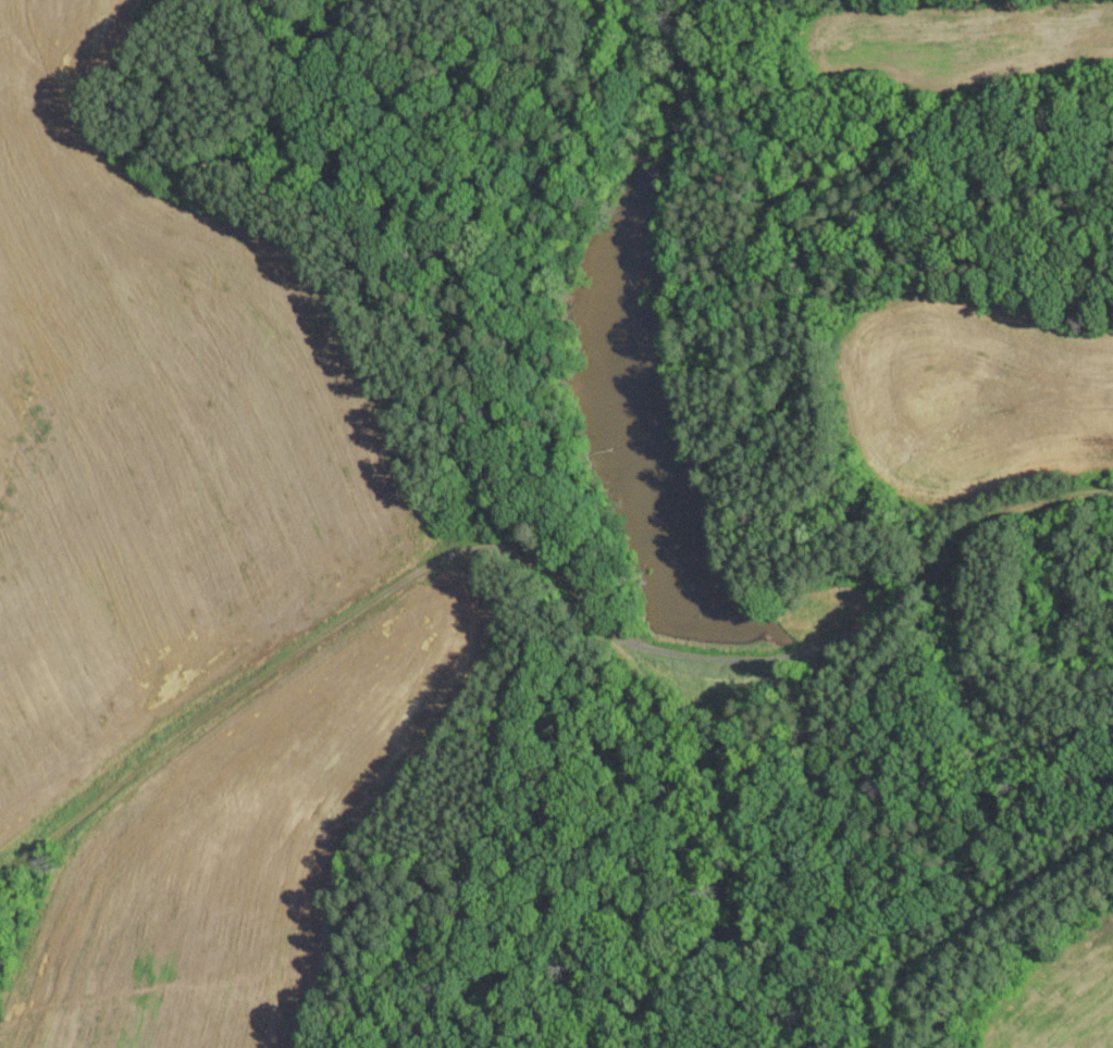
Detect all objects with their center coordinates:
road: (536, 573)

